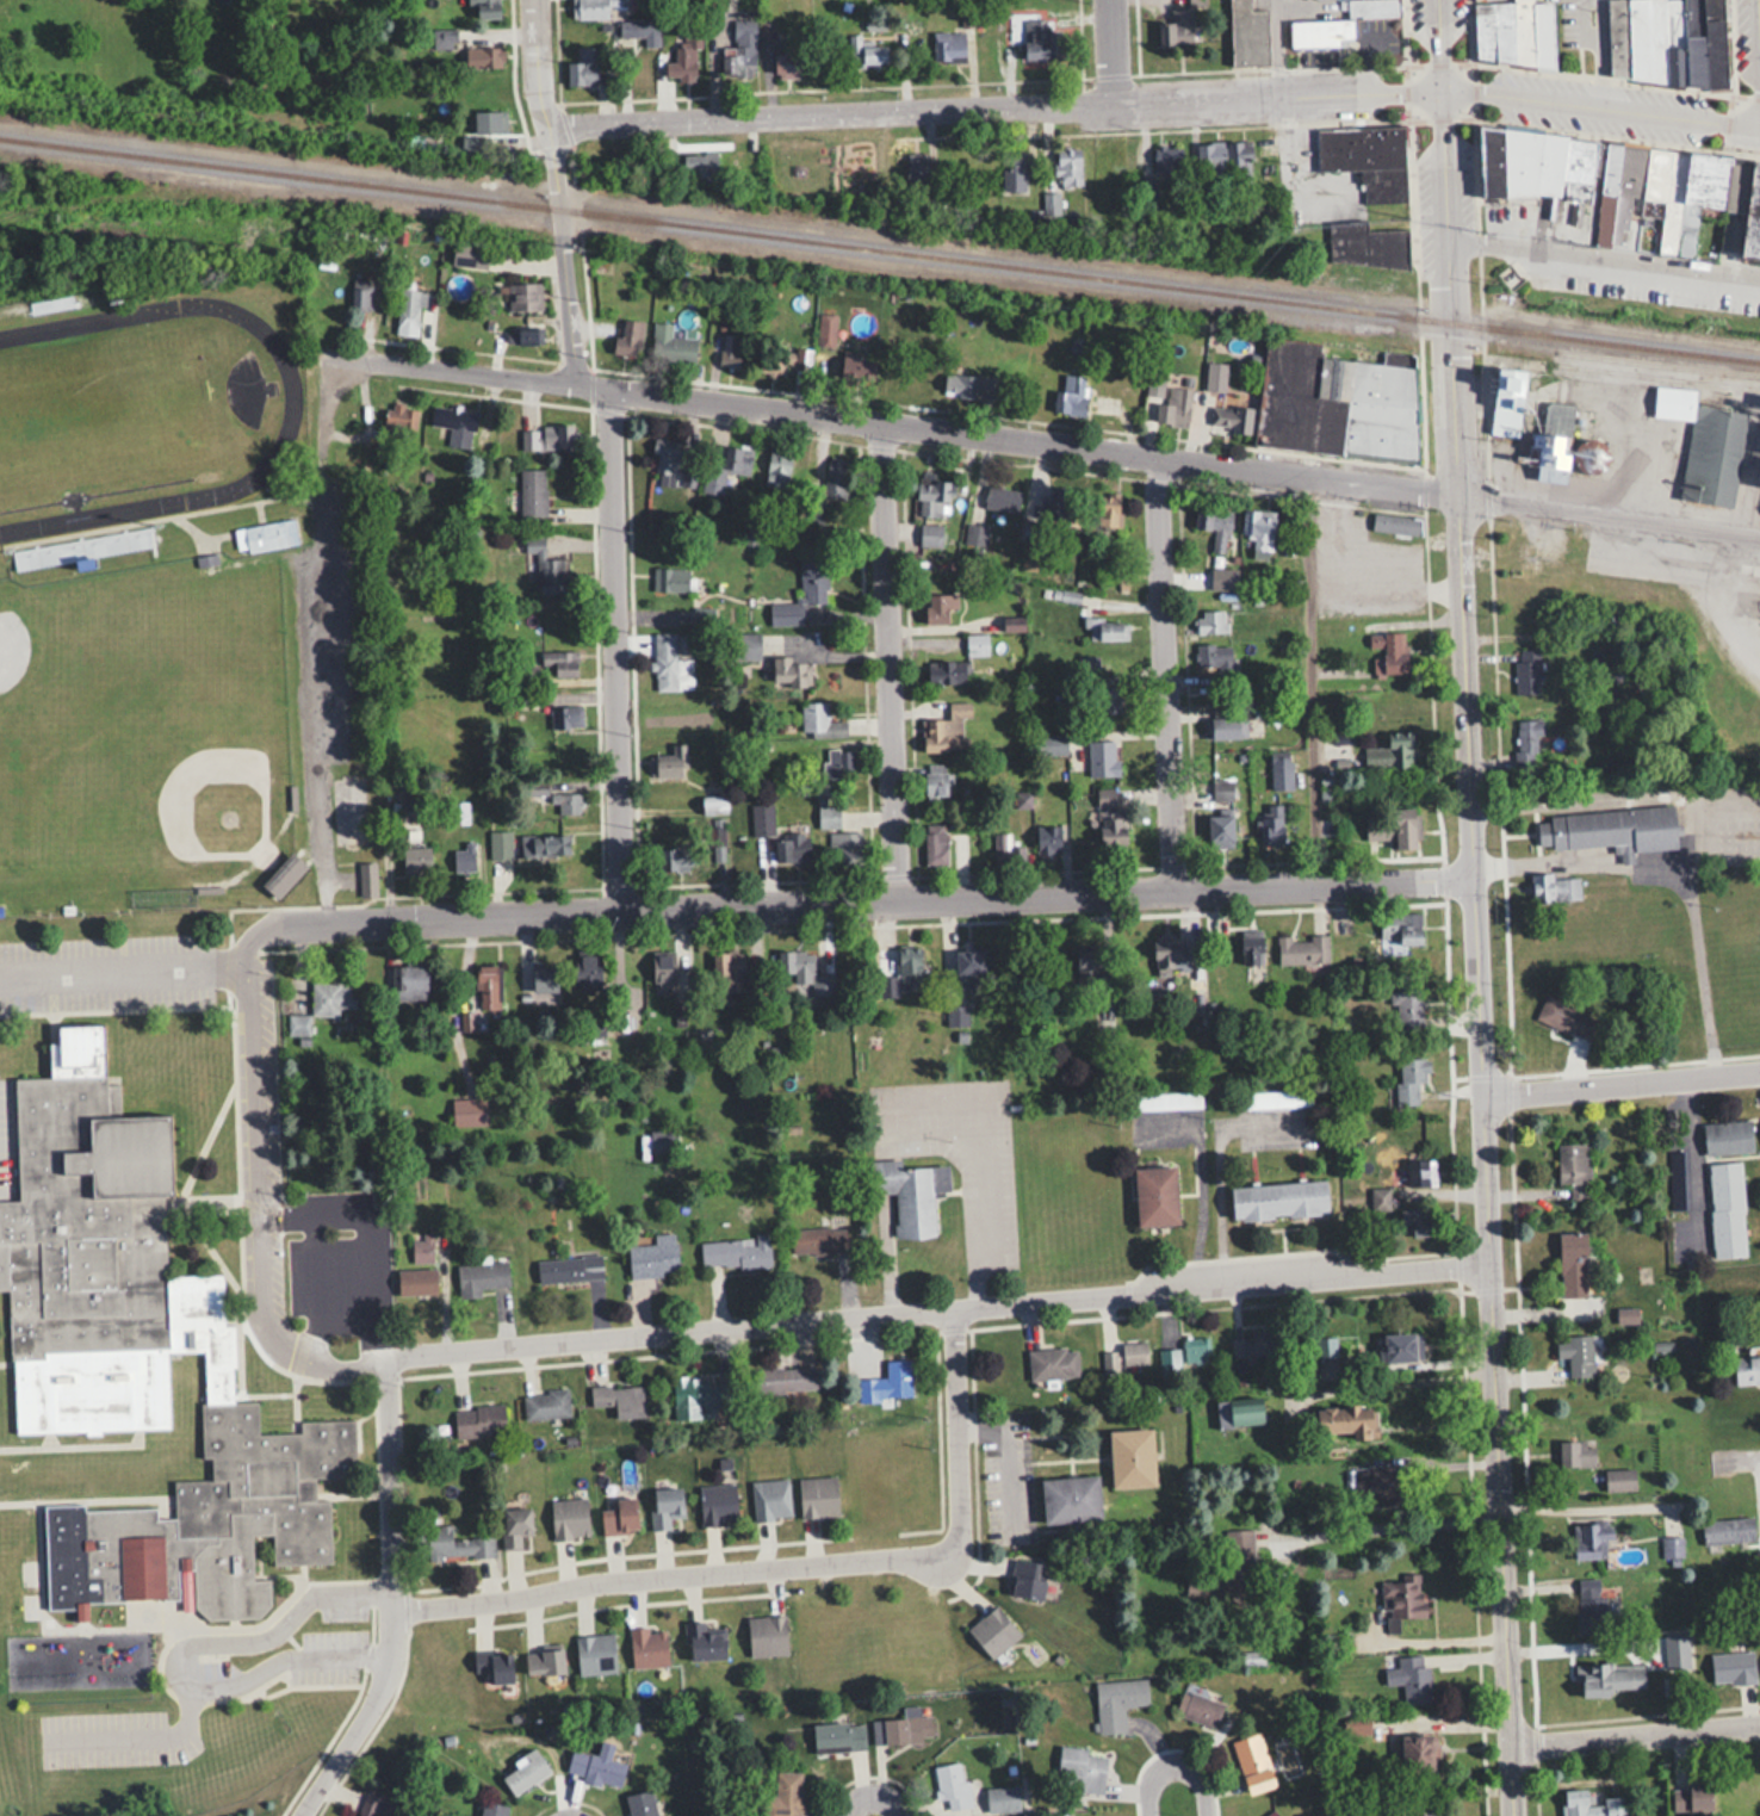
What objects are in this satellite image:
road: (1759, 6)
building: (487, 8)
building: (590, 8)
building: (1338, 23)
building: (1176, 26)
building: (764, 27)
building: (1512, 31)
building: (1246, 32)
building: (647, 35)
building: (1040, 37)
building: (1666, 42)
building: (948, 44)
road: (1442, 44)
building: (467, 49)
building: (739, 50)
building: (864, 51)
road: (1109, 52)
building: (682, 55)
road: (535, 63)
building: (787, 63)
building: (582, 66)
road: (1601, 106)
road: (993, 107)
building: (489, 120)
building: (1222, 157)
building: (1367, 157)
building: (1166, 159)
building: (699, 161)
building: (1068, 167)
building: (1014, 171)
building: (854, 176)
building: (1629, 187)
building: (1368, 243)
railway: (879, 250)
road: (560, 253)
building: (469, 255)
road: (1605, 258)
building: (360, 292)
building: (523, 296)
building: (38, 306)
building: (409, 310)
building: (525, 334)
building: (628, 337)
building: (670, 345)
building: (729, 351)
building: (1073, 361)
railway: (1657, 364)
railway: (1656, 376)
building: (1154, 384)
building: (967, 385)
building: (1071, 392)
building: (1334, 401)
building: (1507, 401)
building: (1173, 407)
building: (402, 417)
building: (1229, 419)
building: (454, 423)
road: (898, 427)
building: (546, 438)
building: (1703, 444)
building: (1548, 452)
building: (665, 455)
building: (777, 466)
building: (725, 467)
building: (835, 476)
building: (532, 491)
building: (932, 495)
building: (1000, 498)
building: (1054, 507)
building: (1107, 509)
road: (1613, 513)
building: (1395, 523)
building: (1214, 525)
building: (1258, 532)
building: (265, 535)
building: (974, 540)
building: (545, 565)
building: (670, 577)
building: (800, 593)
building: (938, 606)
building: (1210, 620)
building: (1102, 630)
road: (312, 639)
building: (975, 644)
building: (1390, 649)
road: (616, 651)
building: (1213, 653)
building: (560, 661)
road: (887, 661)
building: (667, 662)
building: (787, 670)
building: (946, 670)
building: (1526, 671)
road: (1166, 673)
road: (1303, 676)
building: (1109, 699)
building: (565, 715)
building: (818, 719)
building: (948, 726)
building: (1225, 727)
building: (1529, 739)
building: (1049, 744)
building: (1389, 752)
building: (1102, 758)
building: (669, 762)
building: (837, 762)
building: (1279, 773)
building: (935, 781)
building: (1104, 798)
building: (1022, 799)
building: (565, 801)
building: (459, 811)
building: (828, 816)
building: (762, 818)
building: (1399, 823)
building: (1270, 824)
building: (1111, 829)
building: (1610, 829)
building: (1047, 839)
building: (794, 841)
building: (934, 844)
building: (498, 845)
building: (541, 845)
building: (844, 847)
building: (1004, 850)
building: (675, 856)
building: (415, 859)
building: (464, 859)
road: (1675, 867)
building: (283, 874)
building: (366, 879)
building: (1555, 887)
road: (866, 898)
building: (1401, 925)
building: (1251, 946)
building: (1301, 948)
road: (1479, 952)
building: (1165, 955)
road: (123, 966)
building: (969, 968)
building: (730, 969)
building: (806, 972)
building: (1091, 972)
building: (588, 973)
building: (903, 973)
building: (544, 979)
building: (409, 983)
building: (487, 986)
building: (330, 998)
building: (1405, 1008)
building: (955, 1015)
building: (1564, 1017)
building: (297, 1025)
road: (1622, 1078)
building: (1409, 1079)
building: (1272, 1098)
building: (1161, 1101)
building: (467, 1112)
building: (1728, 1138)
building: (662, 1140)
road: (1686, 1154)
road: (1210, 1164)
building: (1574, 1169)
building: (1412, 1172)
road: (259, 1194)
building: (910, 1195)
building: (1155, 1196)
building: (1278, 1200)
building: (1725, 1209)
building: (817, 1240)
road: (354, 1242)
building: (421, 1248)
building: (733, 1252)
building: (652, 1259)
building: (1572, 1264)
building: (569, 1269)
building: (482, 1276)
building: (415, 1279)
road: (938, 1313)
building: (1256, 1343)
building: (1401, 1346)
building: (1326, 1347)
building: (1194, 1349)
building: (1576, 1355)
building: (1124, 1356)
building: (137, 1359)
building: (1052, 1362)
building: (1165, 1362)
building: (1746, 1369)
building: (786, 1380)
building: (887, 1382)
building: (699, 1395)
building: (619, 1399)
building: (545, 1402)
building: (1239, 1412)
building: (479, 1420)
building: (1349, 1421)
road: (955, 1436)
road: (1015, 1452)
building: (1575, 1454)
building: (1132, 1457)
road: (1741, 1458)
building: (1618, 1480)
building: (1372, 1486)
building: (817, 1496)
building: (1071, 1499)
building: (770, 1500)
building: (717, 1504)
building: (665, 1506)
road: (1563, 1508)
building: (619, 1516)
building: (569, 1518)
building: (515, 1525)
road: (1388, 1525)
building: (1727, 1532)
building: (1589, 1538)
building: (456, 1544)
building: (1671, 1547)
building: (1235, 1563)
road: (665, 1576)
building: (1028, 1579)
road: (392, 1598)
building: (1401, 1598)
building: (1588, 1600)
building: (992, 1631)
building: (766, 1636)
building: (706, 1642)
building: (647, 1648)
building: (595, 1654)
road: (178, 1659)
building: (544, 1662)
building: (494, 1666)
building: (1731, 1667)
building: (1409, 1678)
building: (1611, 1678)
building: (1116, 1703)
building: (1197, 1709)
building: (901, 1728)
road: (1635, 1728)
road: (142, 1735)
building: (837, 1736)
building: (1419, 1753)
building: (1252, 1764)
building: (596, 1766)
road: (1179, 1767)
building: (1082, 1769)
building: (525, 1774)
building: (952, 1786)
building: (787, 1793)
building: (1691, 1797)
road: (874, 1798)
building: (1002, 1798)
building: (639, 1804)
building: (1591, 1804)
building: (373, 1806)
building: (492, 1809)
building: (1271, 1814)

